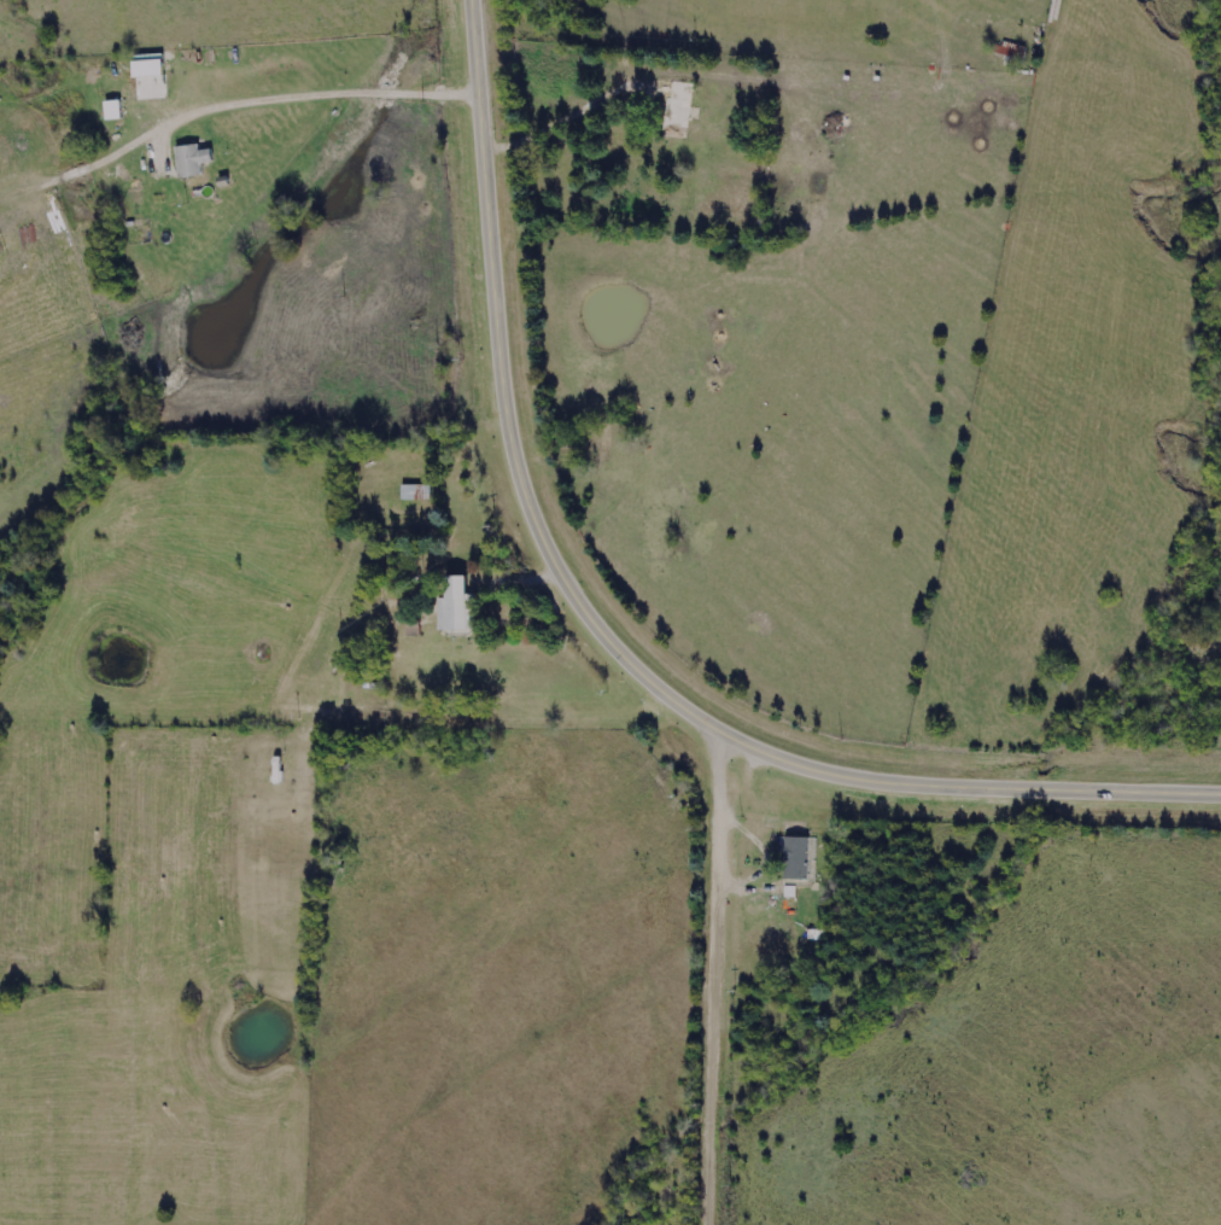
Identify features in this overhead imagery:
road: (229, 106)
road: (567, 107)
building: (677, 112)
building: (193, 162)
building: (415, 494)
road: (524, 573)
building: (456, 606)
road: (603, 635)
road: (749, 800)
building: (800, 858)
building: (818, 935)
road: (712, 976)

